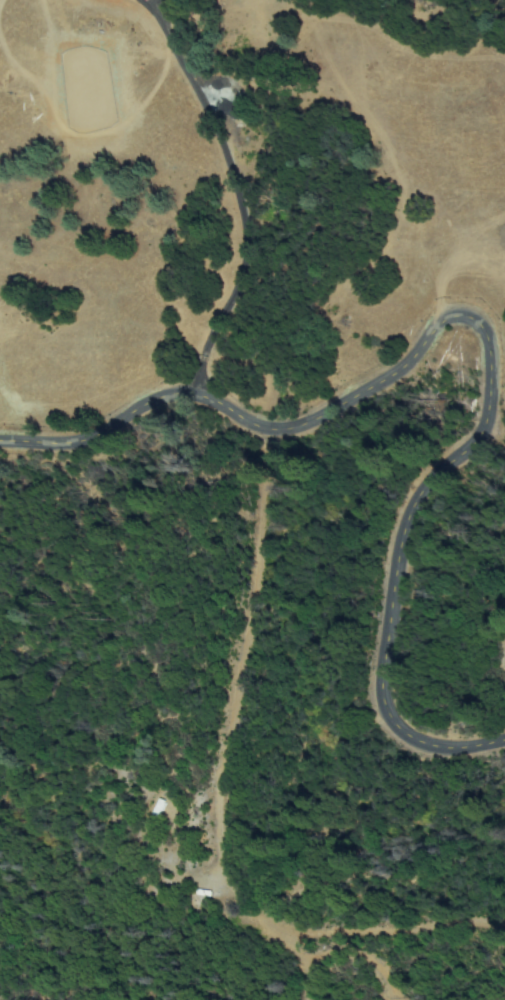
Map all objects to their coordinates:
road: (243, 191)
road: (482, 327)

